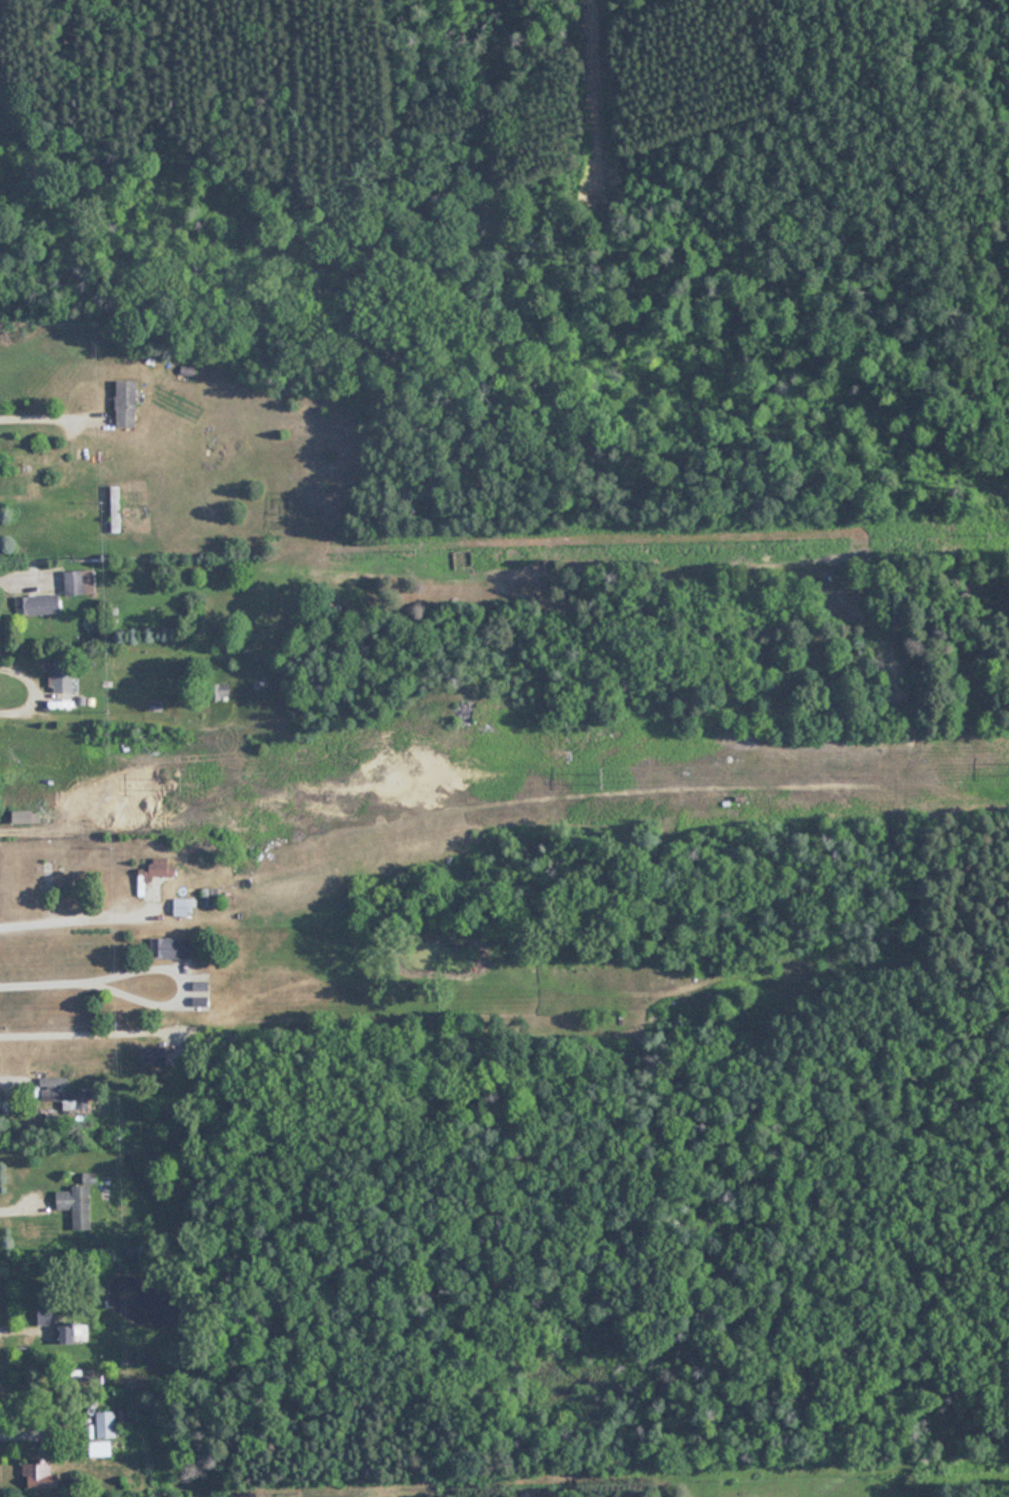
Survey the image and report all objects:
road: (217, 139)
park: (483, 236)
building: (128, 403)
road: (54, 406)
building: (117, 508)
building: (74, 581)
building: (38, 604)
building: (63, 674)
power tower: (601, 772)
power tower: (177, 785)
building: (26, 816)
building: (156, 872)
building: (184, 907)
road: (72, 917)
building: (173, 947)
building: (155, 1056)
building: (66, 1094)
building: (77, 1205)
building: (45, 1313)
building: (72, 1333)
building: (106, 1424)
building: (102, 1448)
building: (40, 1476)

